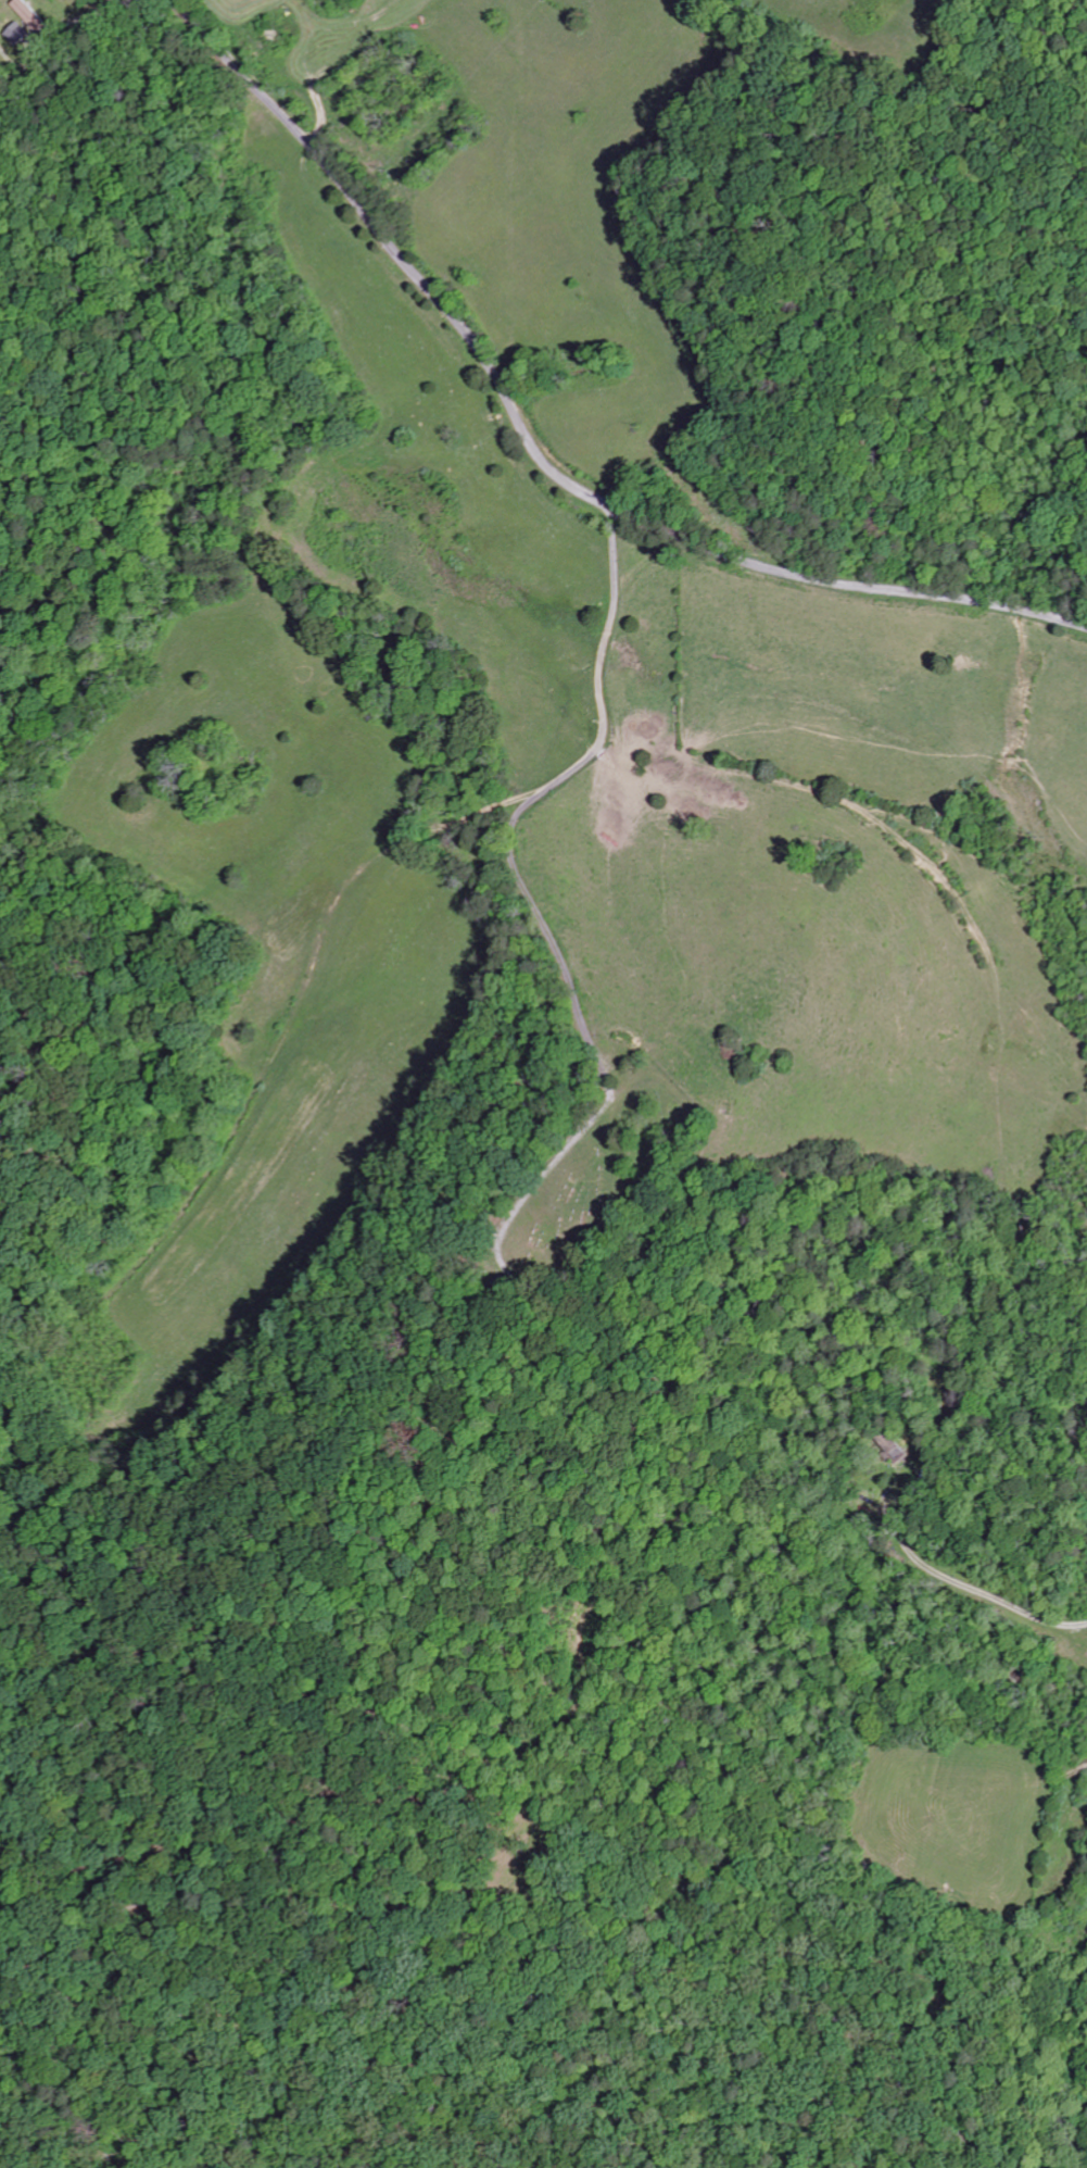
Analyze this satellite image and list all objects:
building: (25, 15)
road: (534, 454)
road: (524, 890)
road: (298, 997)
road: (953, 1581)

